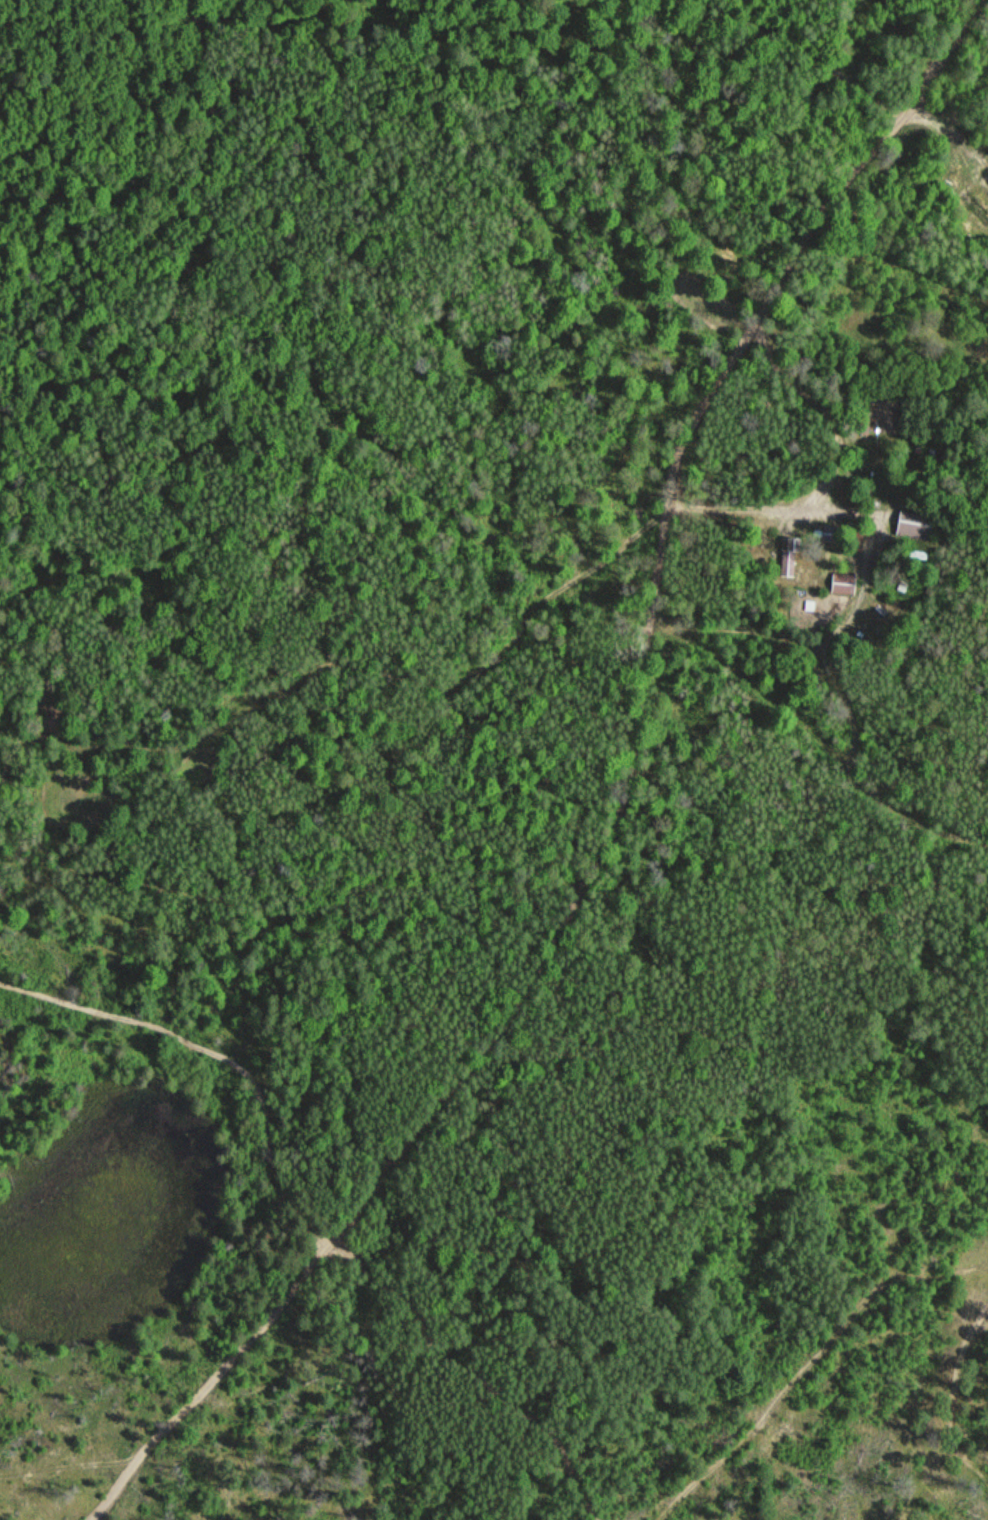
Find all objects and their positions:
road: (141, 403)
road: (826, 406)
building: (864, 424)
building: (916, 526)
building: (790, 556)
road: (868, 566)
building: (844, 584)
road: (622, 798)
road: (308, 1221)

